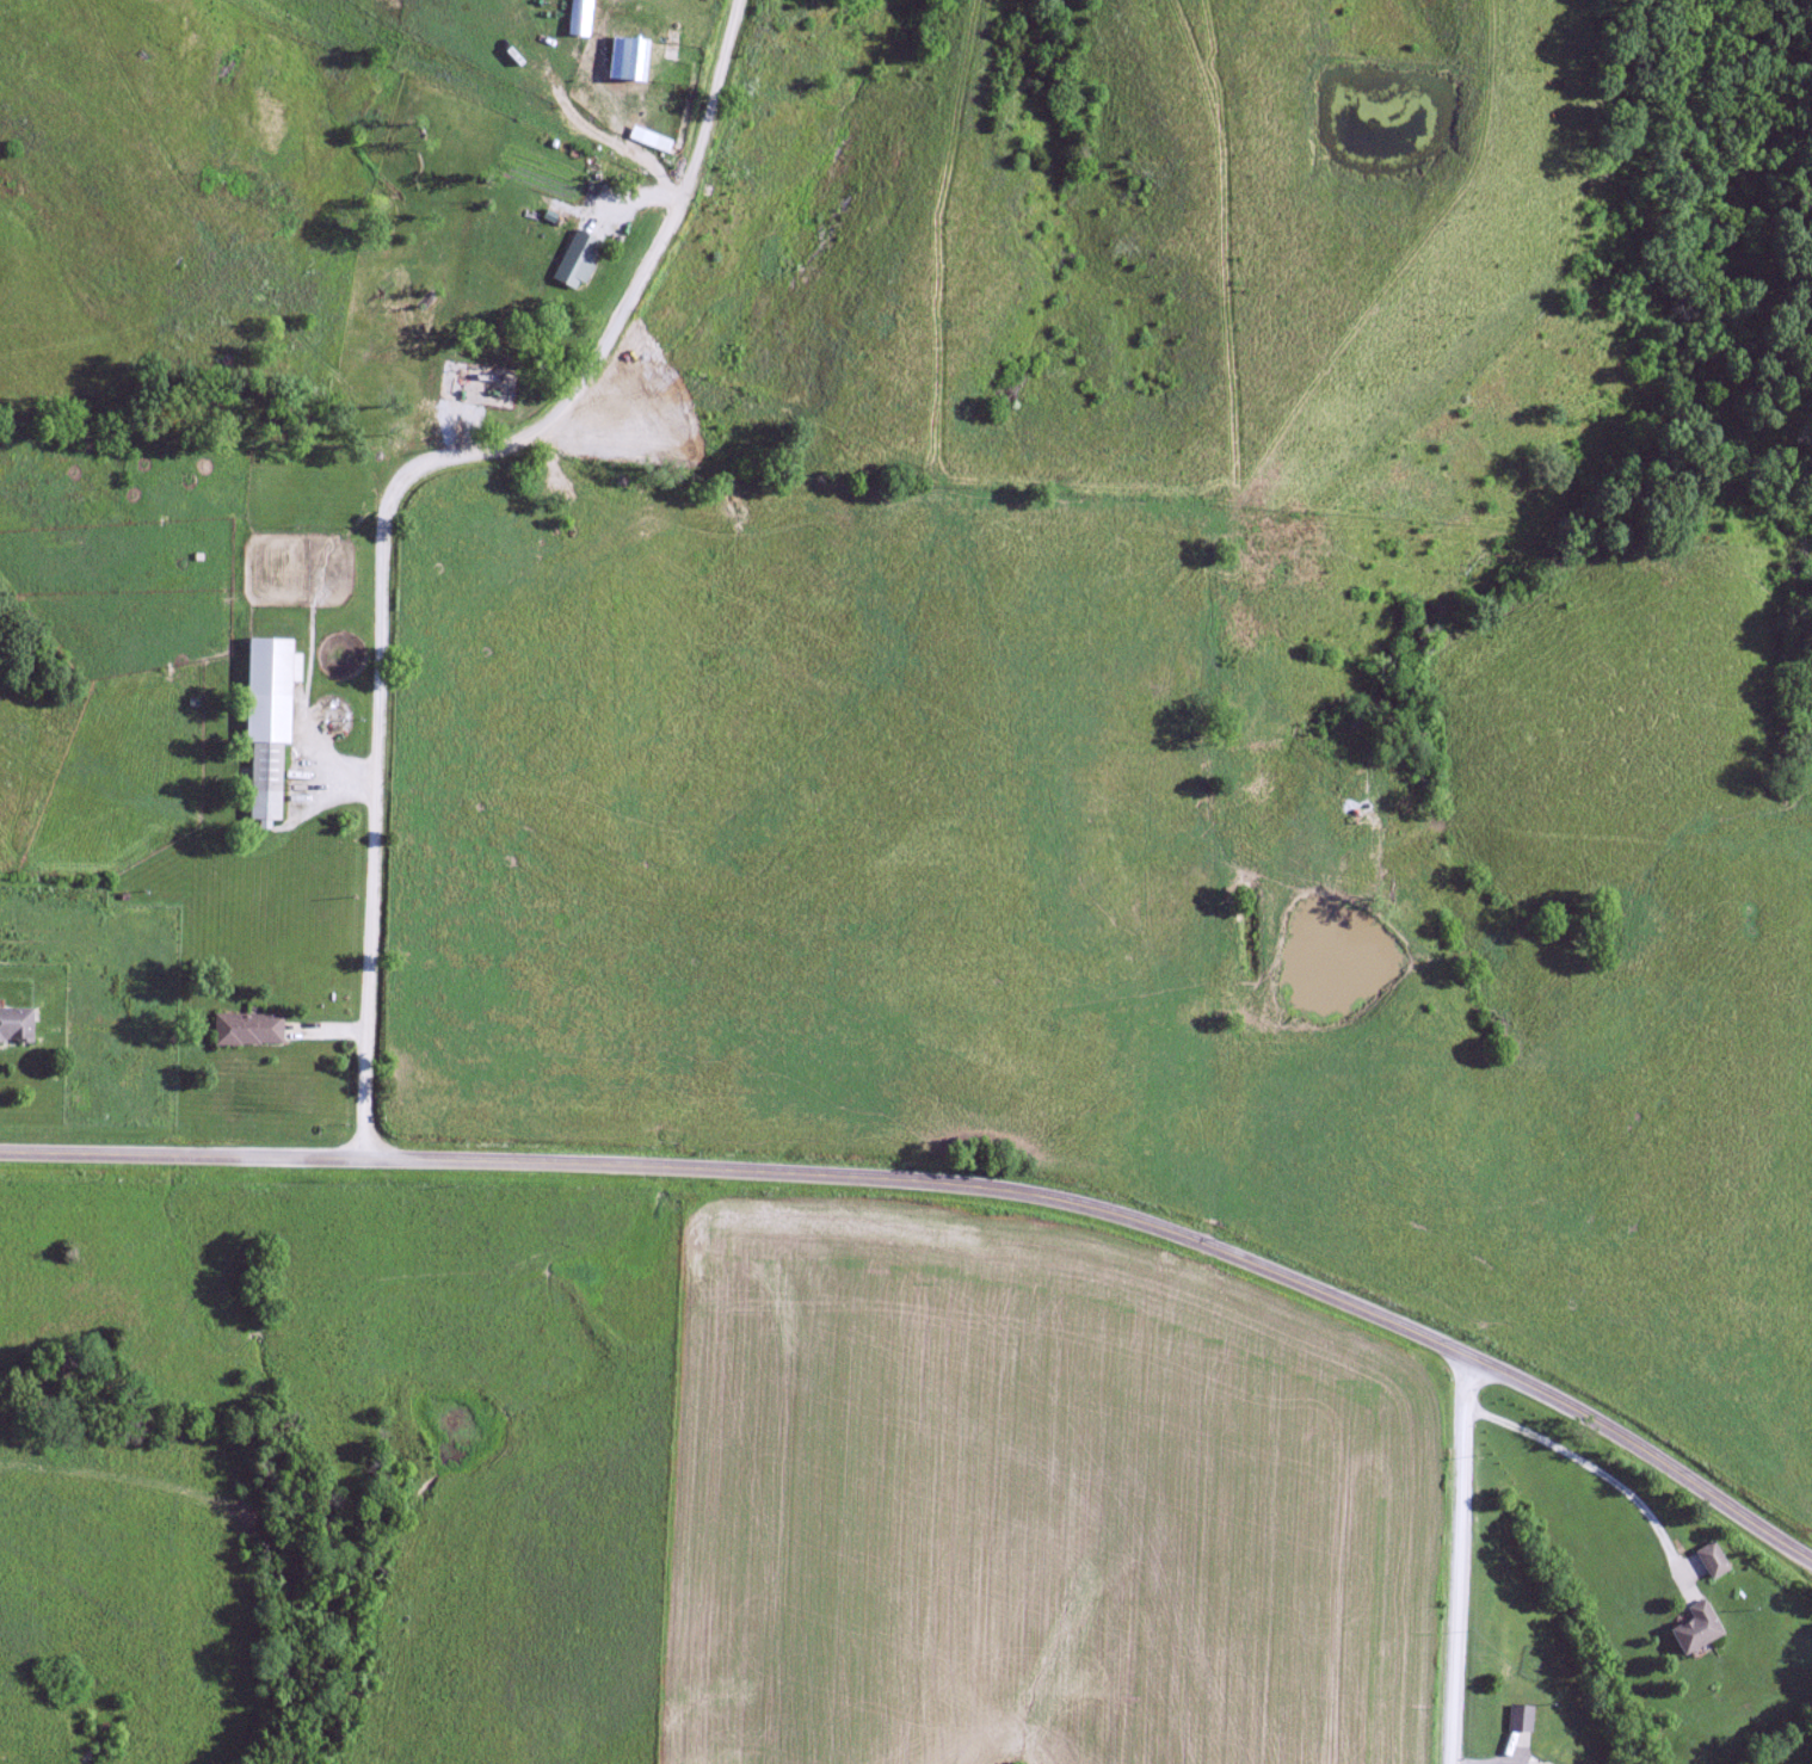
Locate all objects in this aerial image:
building: (536, 5)
building: (577, 17)
building: (624, 58)
building: (538, 68)
building: (578, 107)
building: (647, 138)
building: (469, 383)
road: (386, 504)
building: (264, 724)
building: (13, 1024)
building: (246, 1030)
road: (949, 1184)
road: (1452, 1559)
building: (1709, 1561)
building: (1694, 1629)
building: (1517, 1717)
building: (1546, 1763)

